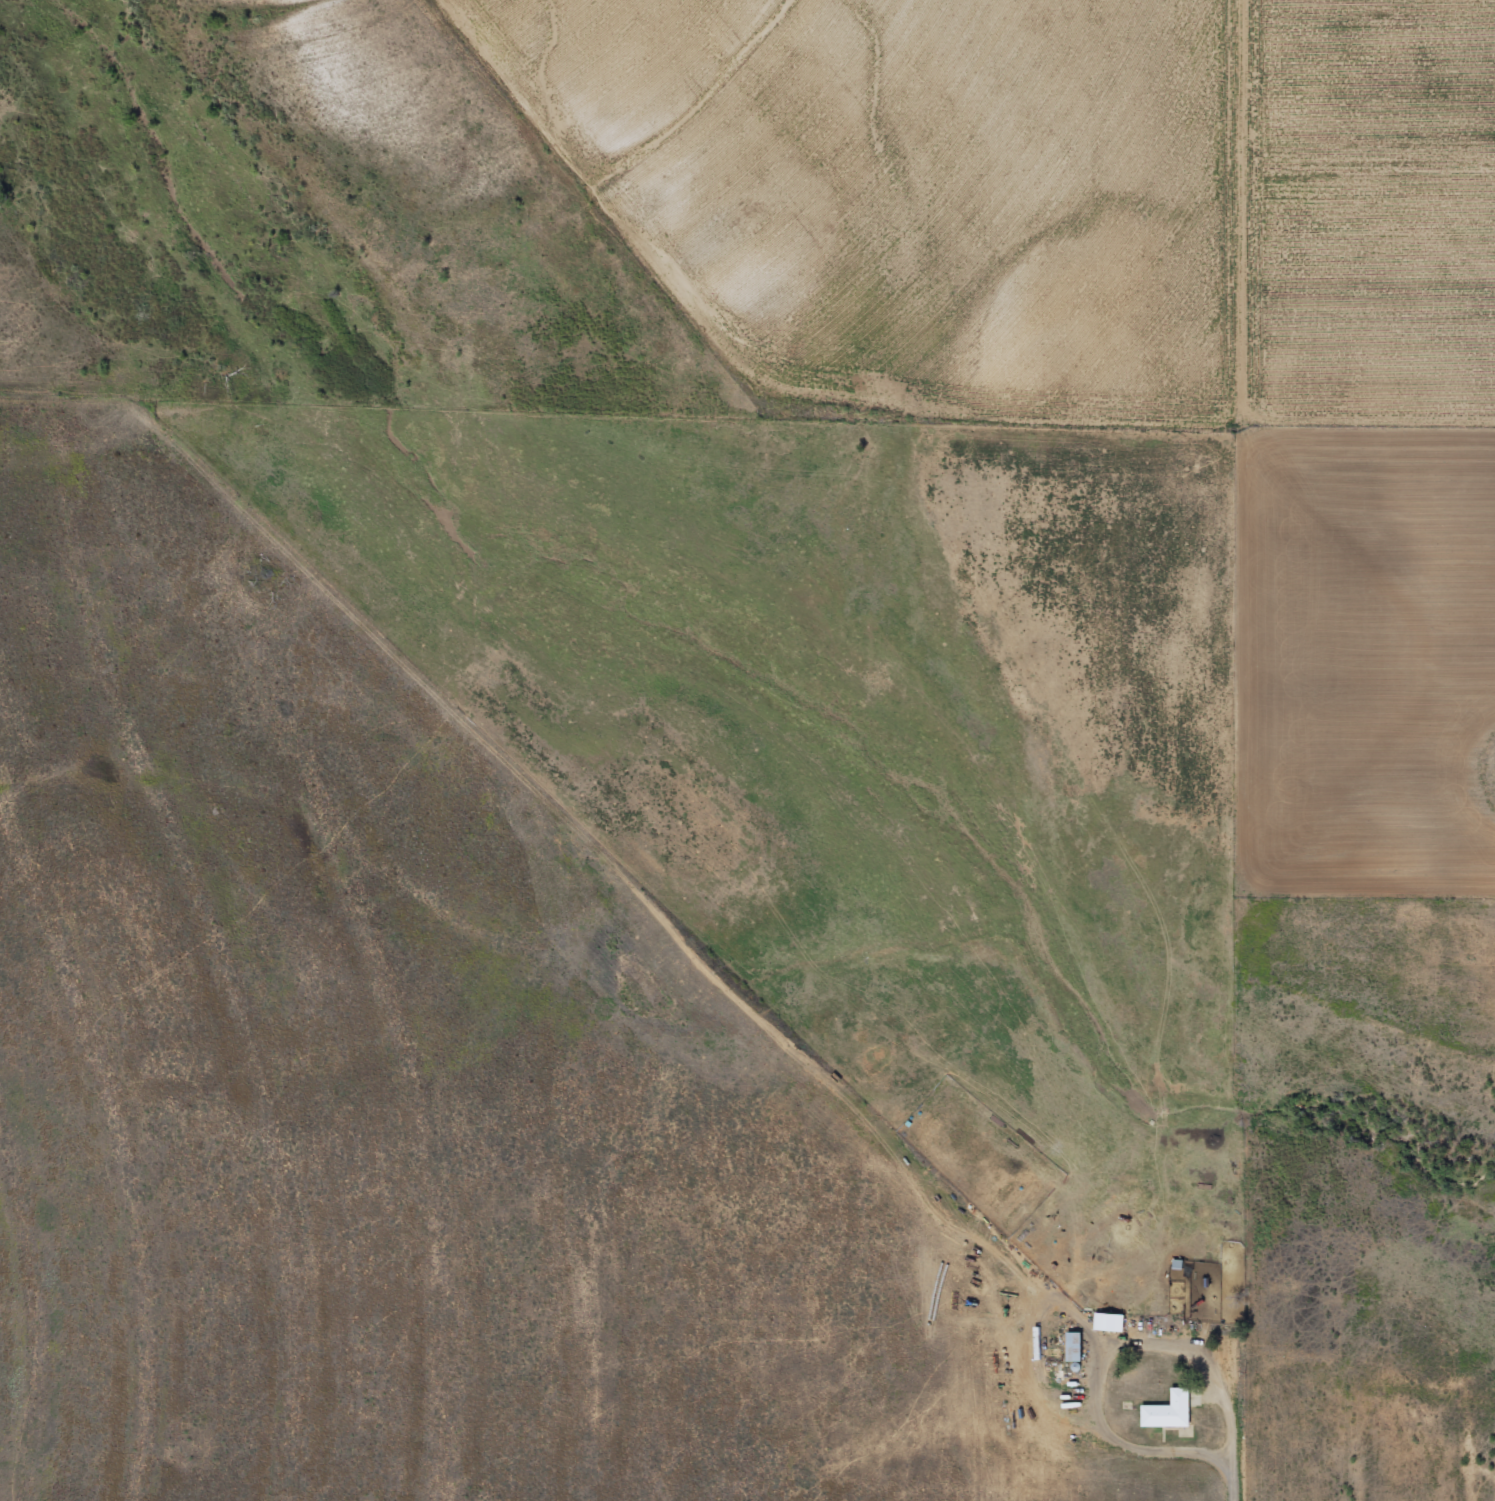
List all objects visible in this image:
building: (1111, 1324)
building: (1076, 1348)
road: (1232, 1405)
building: (1172, 1413)

